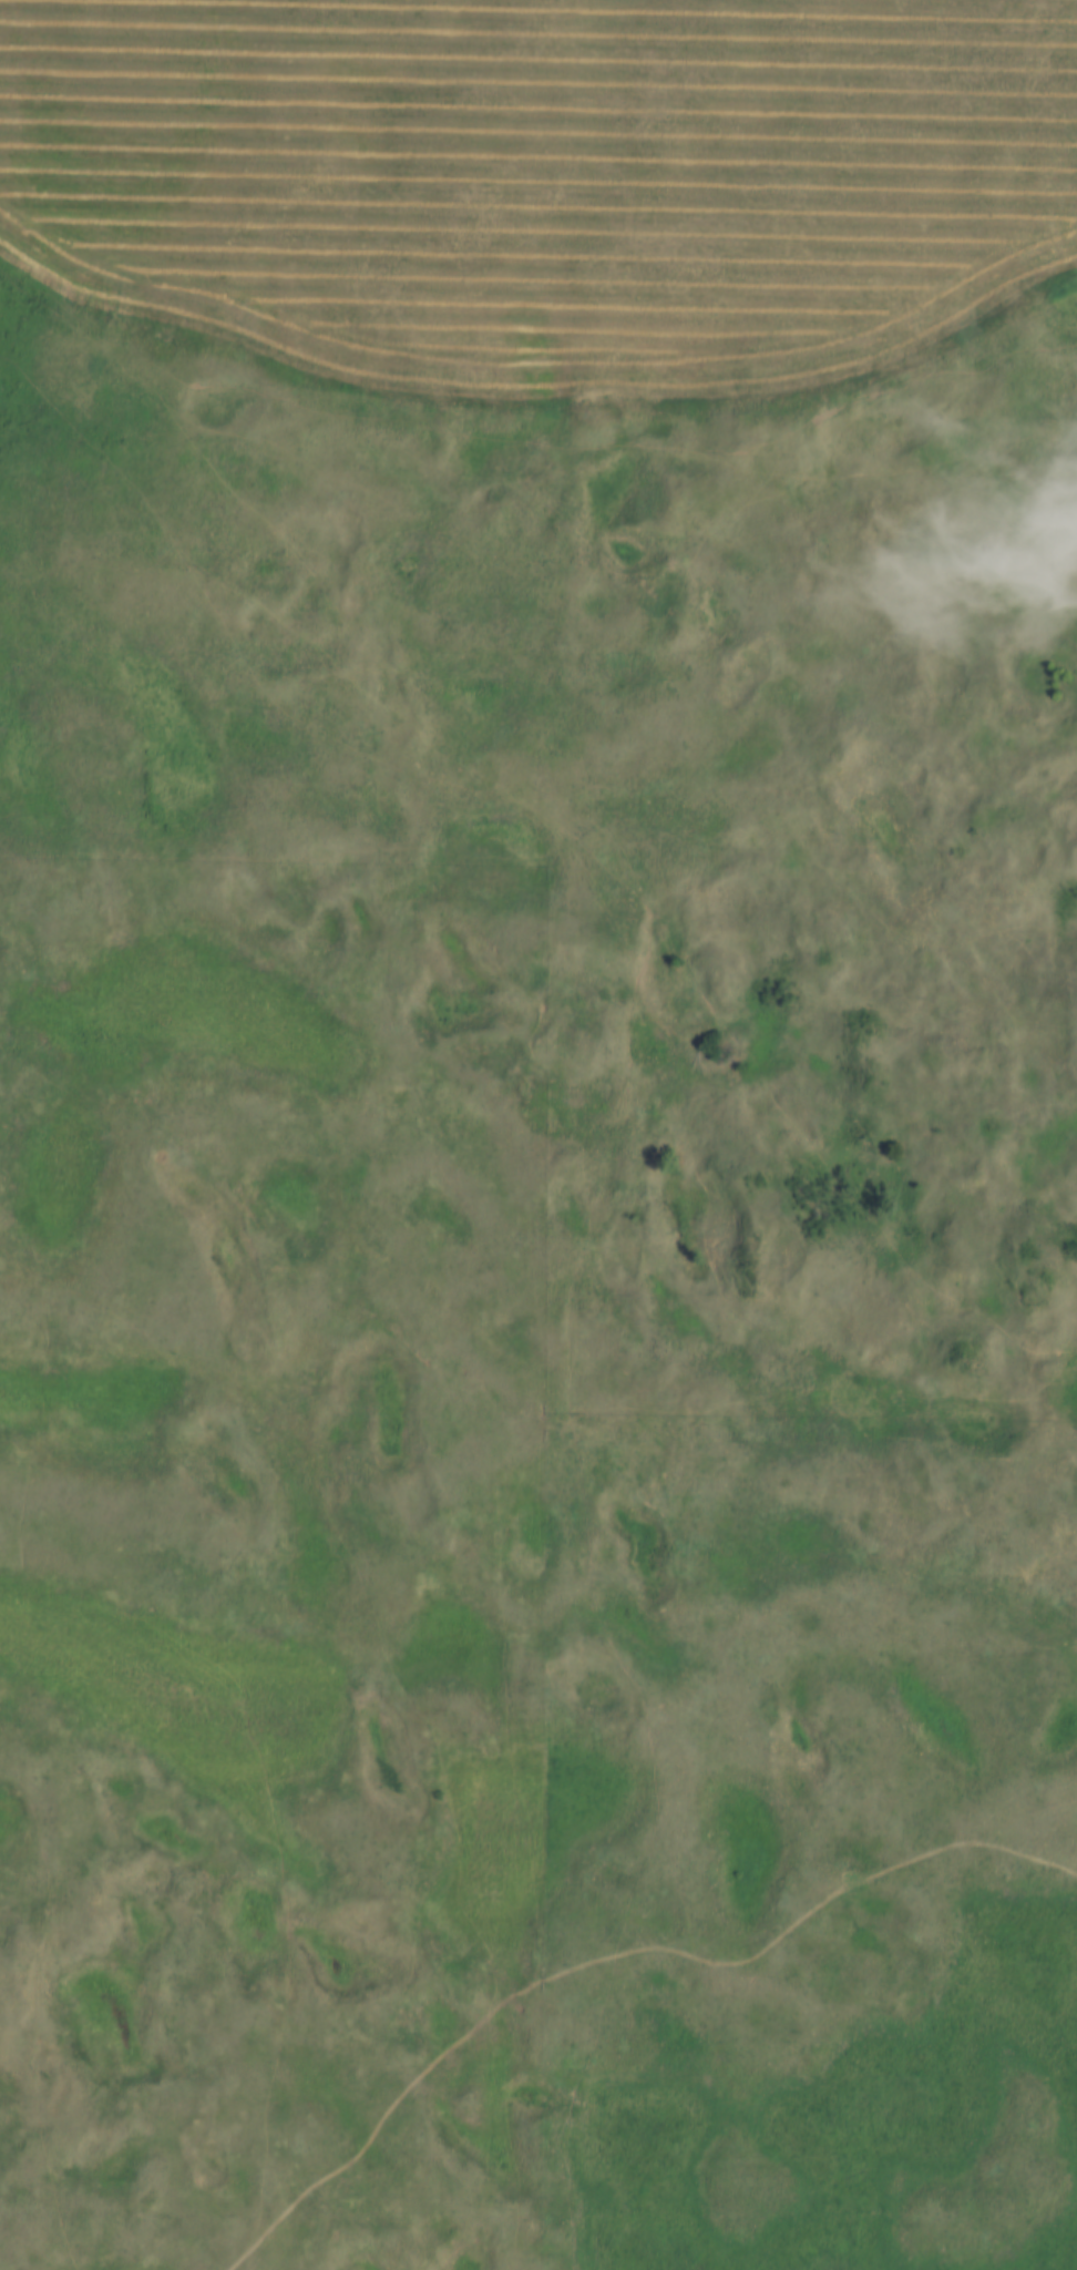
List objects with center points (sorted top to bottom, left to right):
road: (611, 1956)

